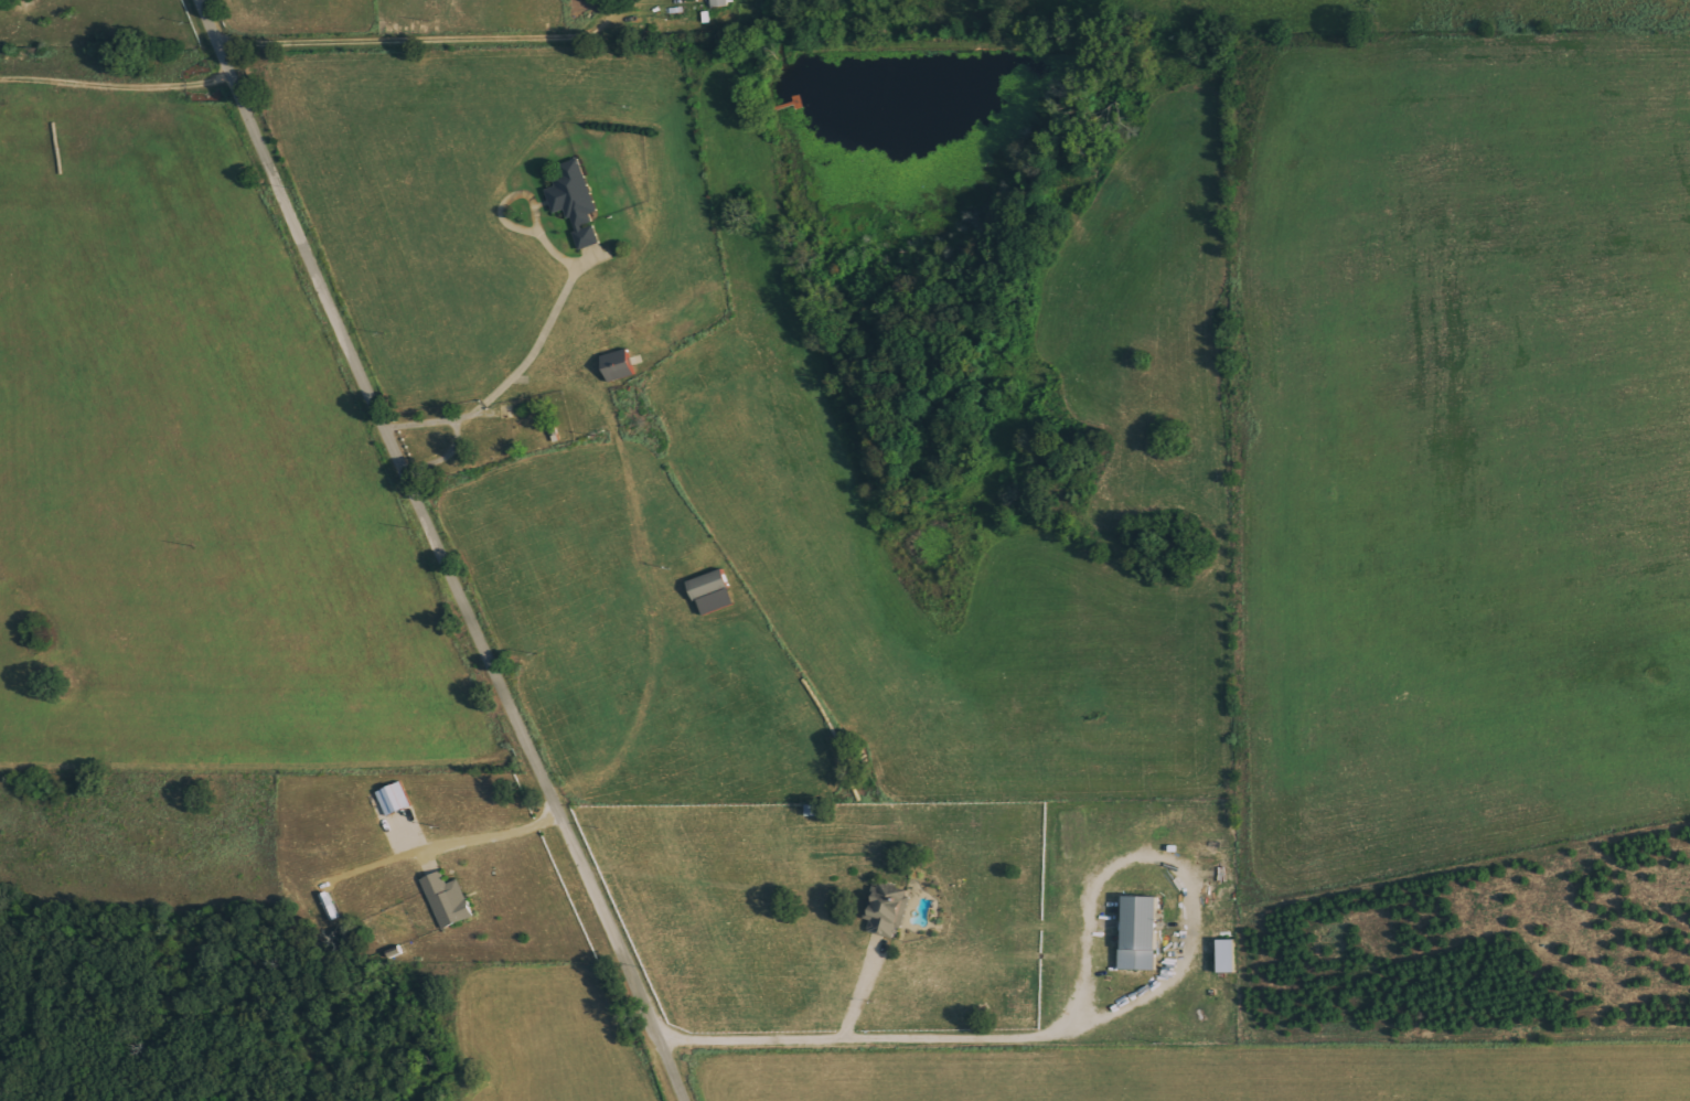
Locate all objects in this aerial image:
building: (723, 3)
building: (576, 203)
building: (619, 366)
road: (438, 550)
building: (709, 585)
building: (718, 602)
building: (394, 799)
building: (448, 900)
building: (887, 912)
building: (1141, 932)
building: (1228, 955)

